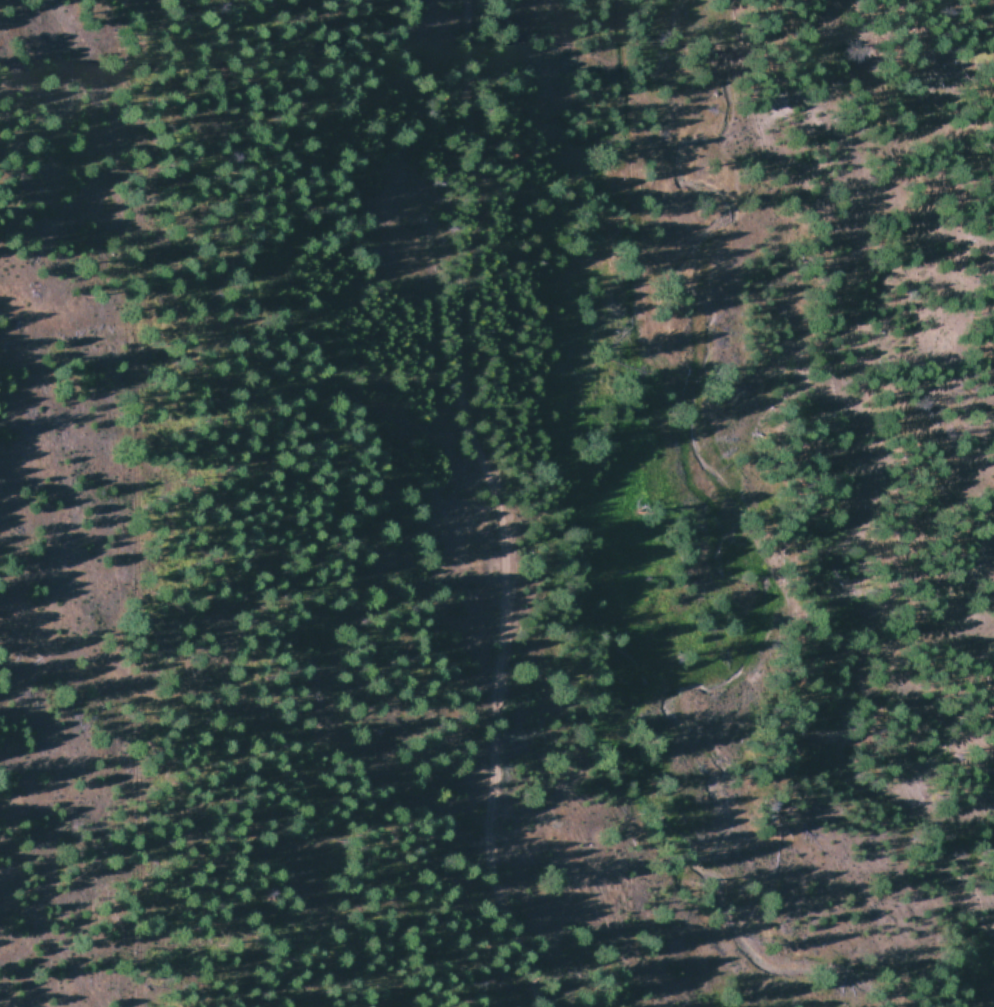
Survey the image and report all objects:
road: (596, 505)

